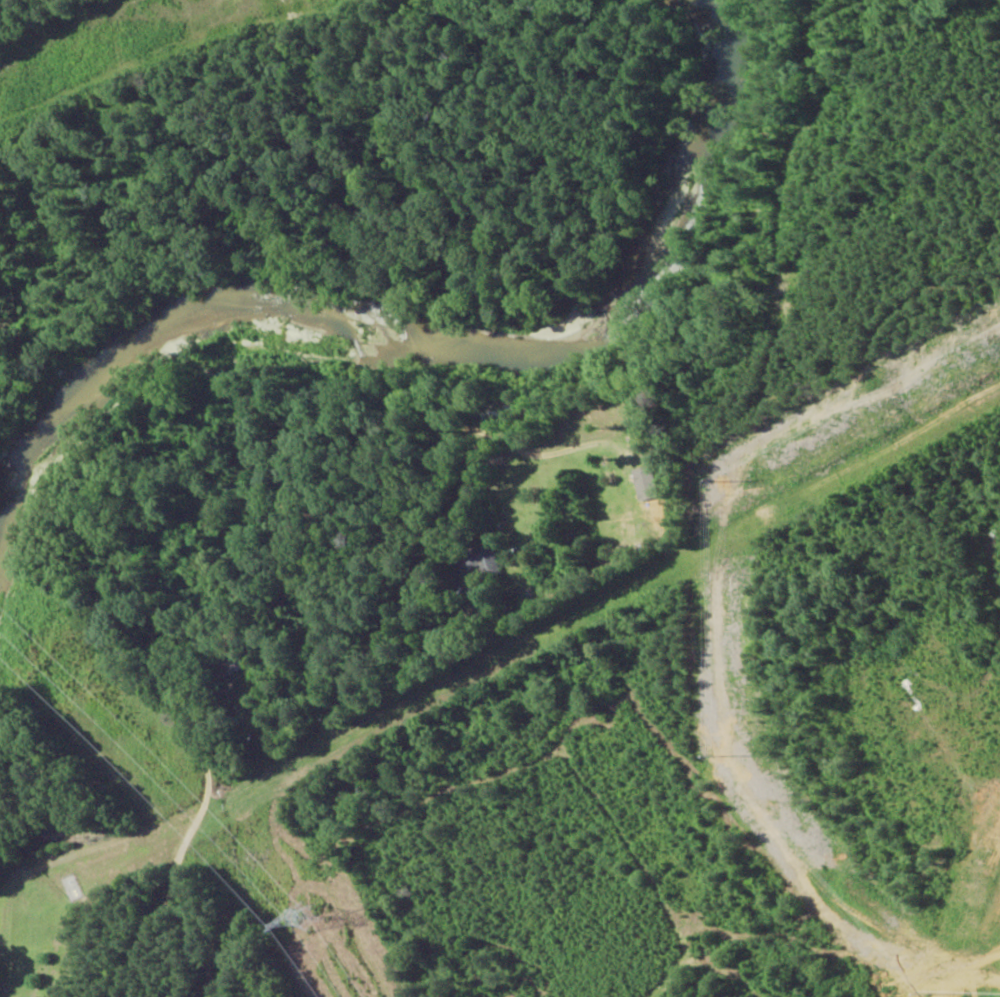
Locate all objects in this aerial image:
road: (441, 544)
building: (482, 558)
road: (197, 690)
road: (10, 883)
power tower: (305, 915)
road: (236, 920)

